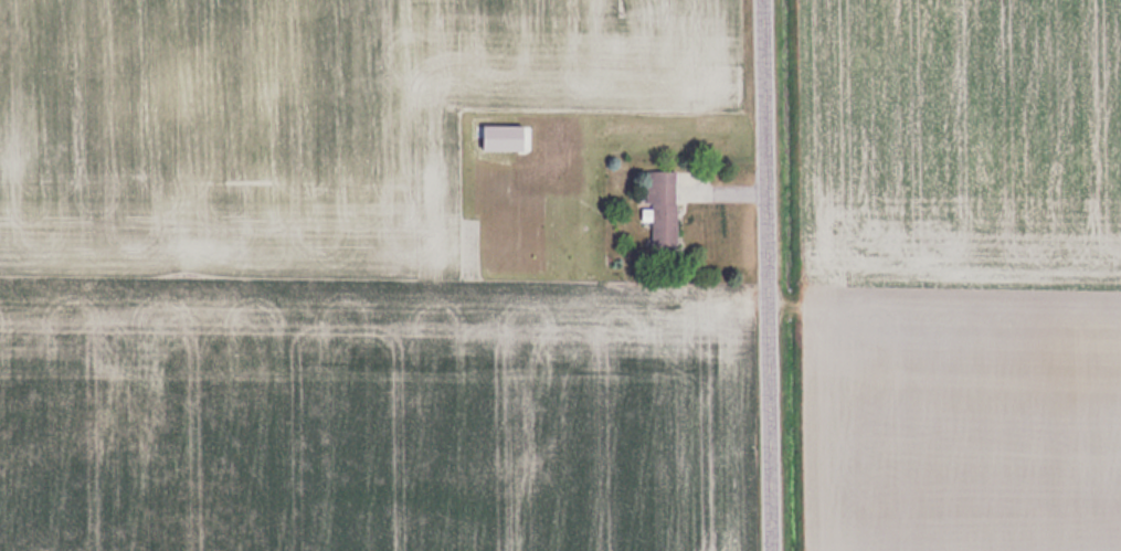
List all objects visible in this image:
building: (660, 209)
road: (768, 275)

